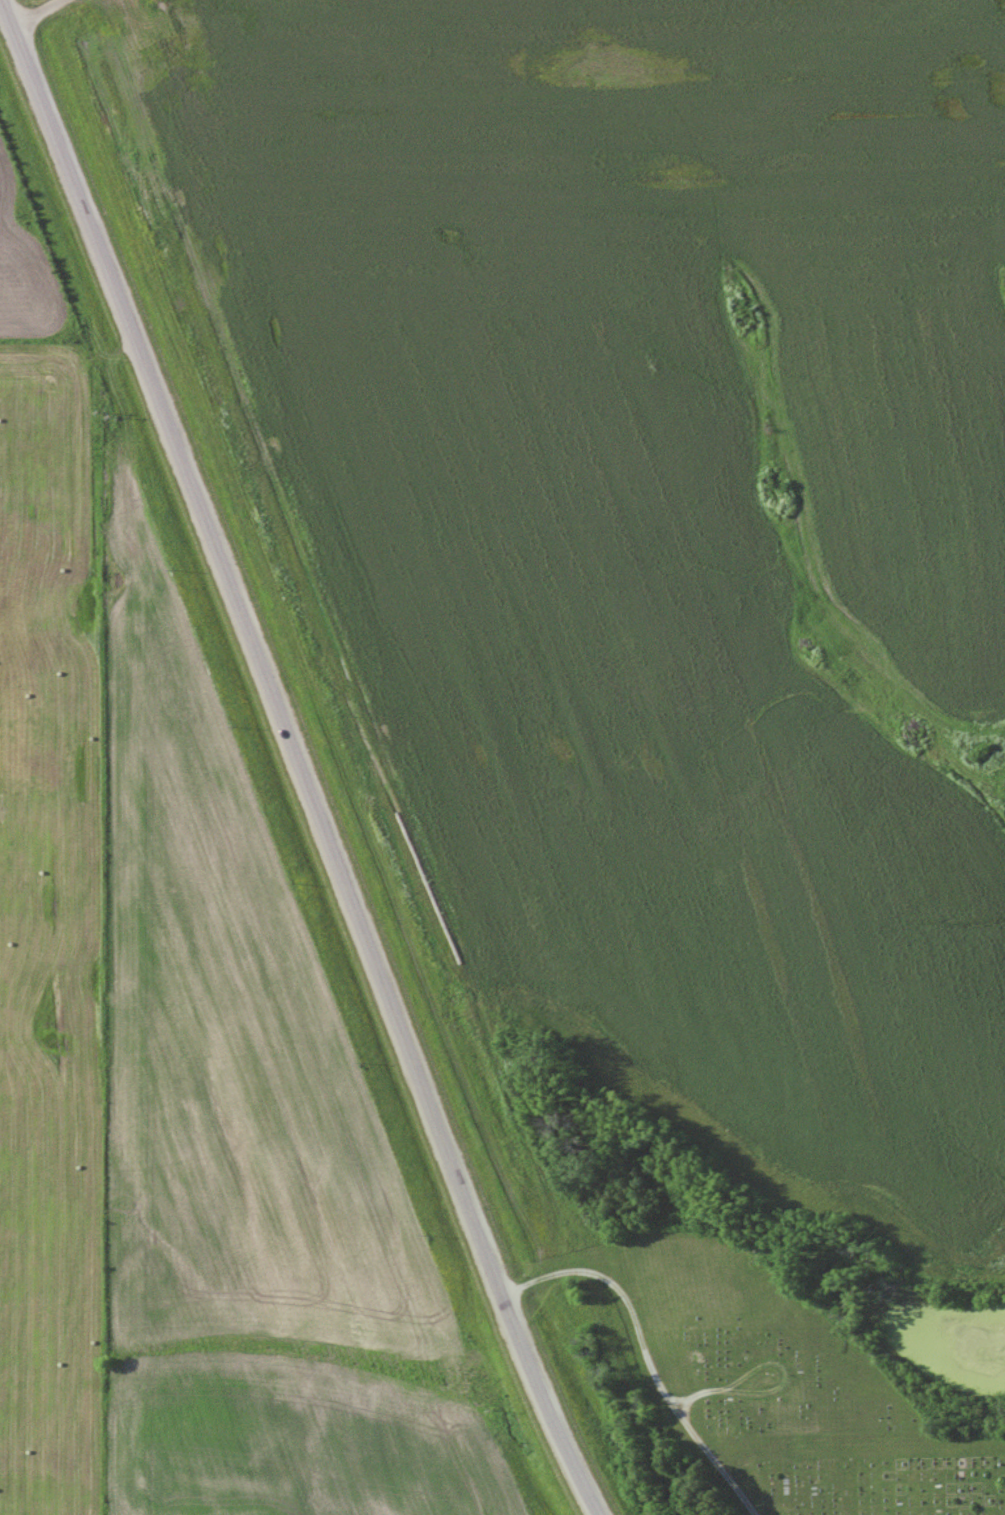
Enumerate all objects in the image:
road: (34, 13)
road: (295, 759)
road: (645, 1352)
park: (772, 1383)
road: (768, 1392)

